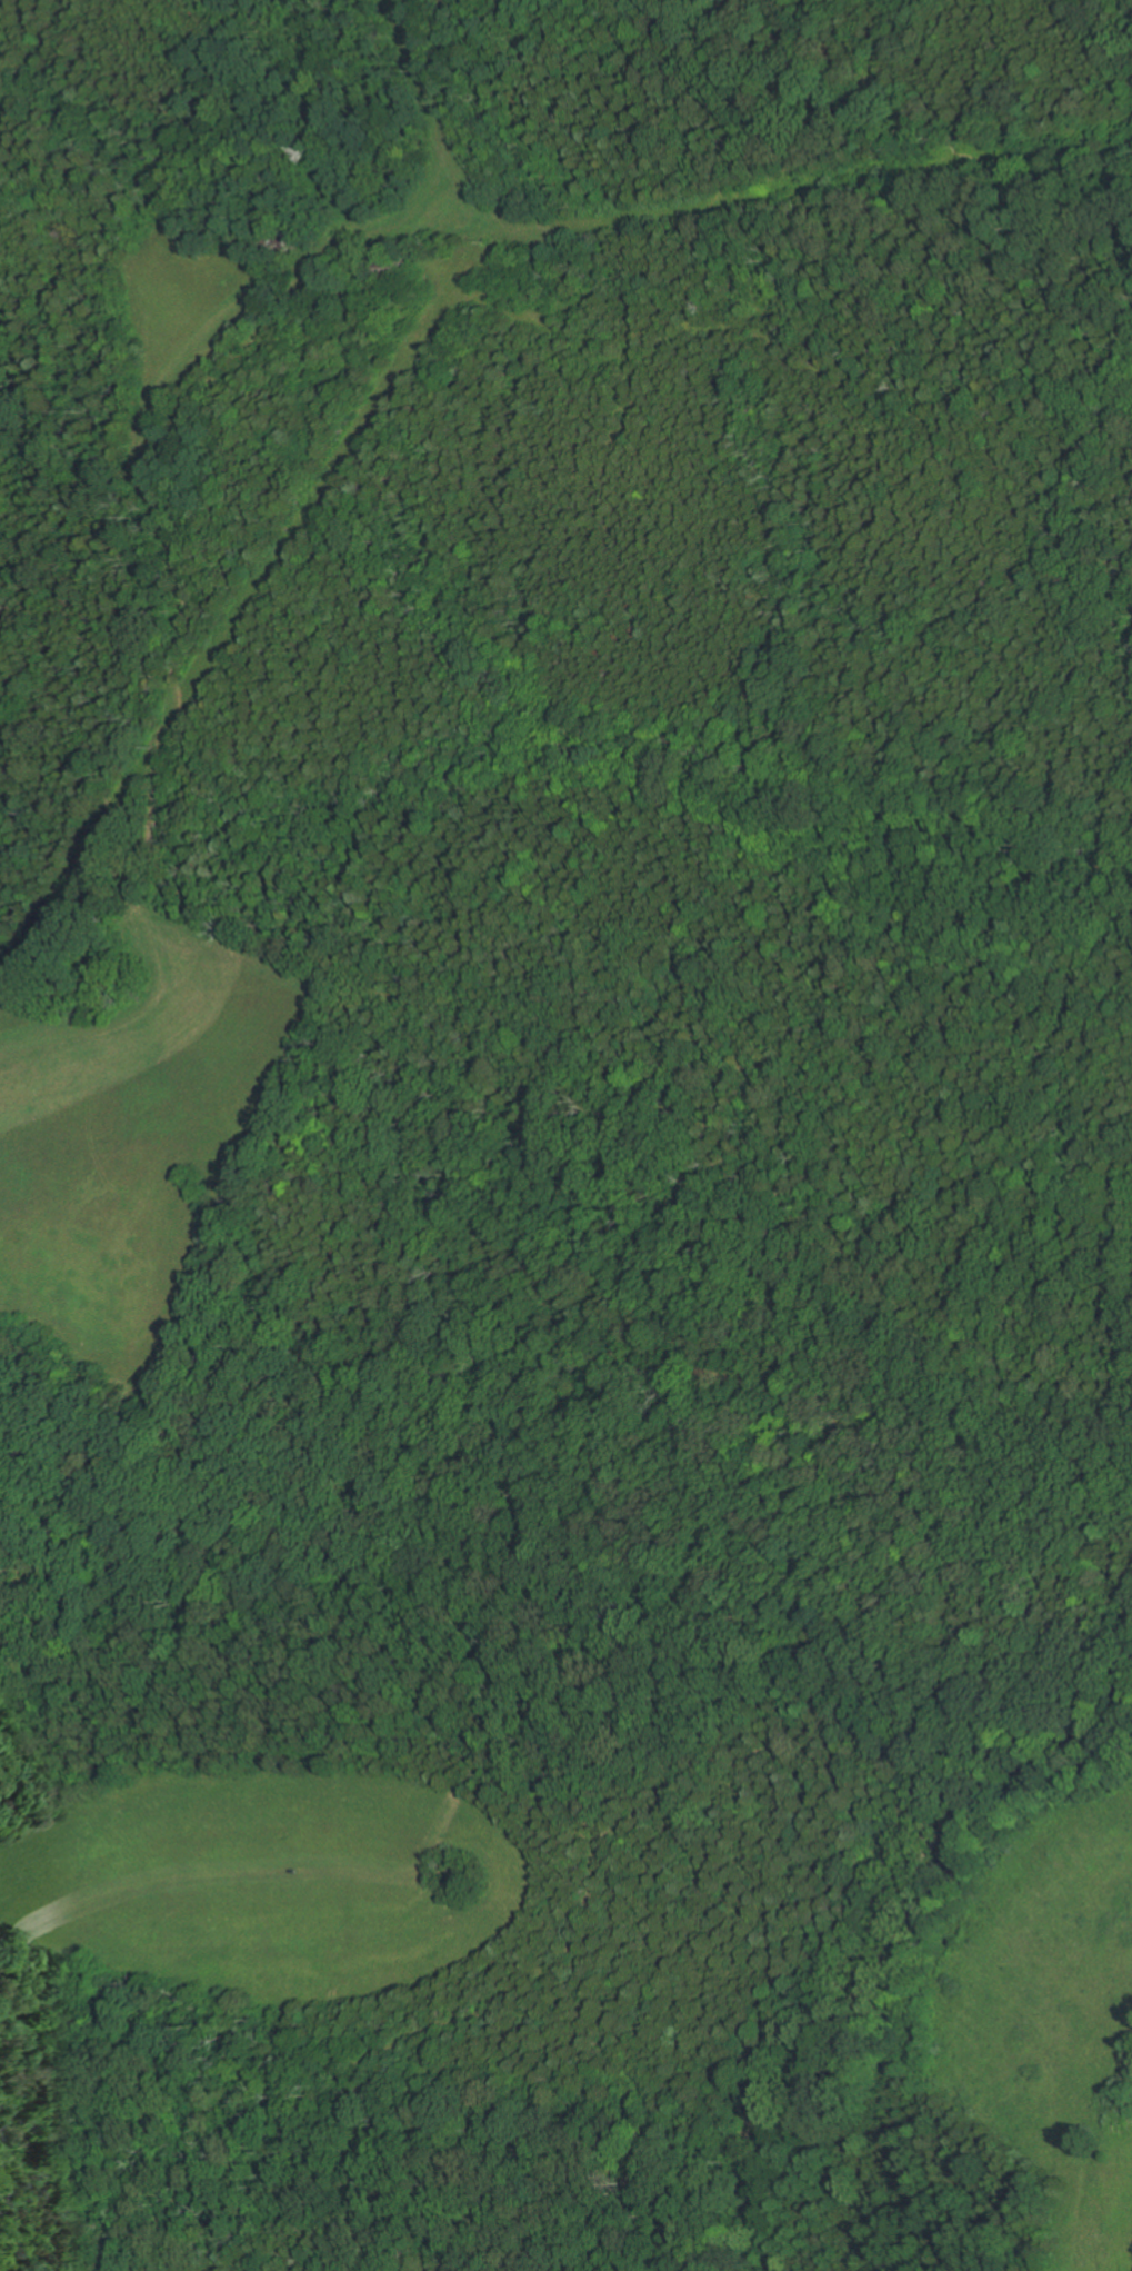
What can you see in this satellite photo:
building: (301, 151)
building: (282, 236)
building: (391, 262)
road: (153, 508)

